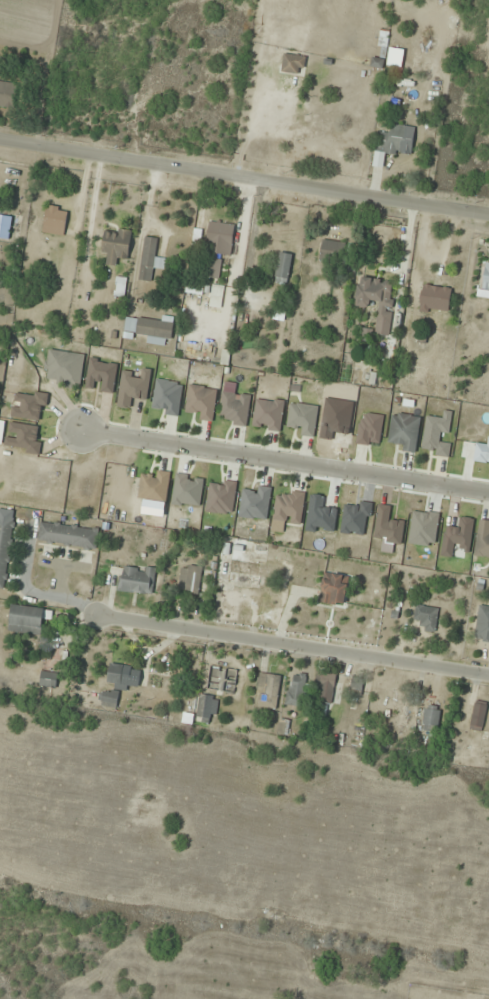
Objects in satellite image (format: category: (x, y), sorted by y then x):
building: (293, 63)
building: (7, 95)
building: (391, 140)
road: (244, 178)
building: (55, 218)
building: (5, 226)
building: (220, 238)
building: (116, 245)
building: (332, 251)
building: (150, 260)
building: (283, 268)
building: (213, 270)
building: (484, 282)
building: (120, 287)
building: (194, 288)
building: (216, 296)
building: (377, 300)
building: (152, 330)
building: (439, 330)
building: (65, 367)
building: (167, 397)
building: (201, 402)
building: (235, 408)
building: (268, 414)
building: (303, 418)
building: (404, 431)
road: (284, 464)
building: (155, 486)
building: (188, 491)
building: (221, 497)
building: (255, 502)
building: (288, 510)
building: (68, 535)
building: (482, 540)
building: (5, 546)
building: (241, 561)
building: (137, 579)
building: (190, 579)
building: (334, 589)
building: (425, 617)
building: (26, 619)
building: (482, 624)
road: (292, 646)
building: (124, 675)
building: (48, 679)
building: (230, 681)
building: (355, 685)
building: (325, 687)
building: (268, 690)
building: (296, 690)
building: (109, 698)
building: (207, 708)
building: (478, 717)
building: (298, 723)
building: (401, 723)

